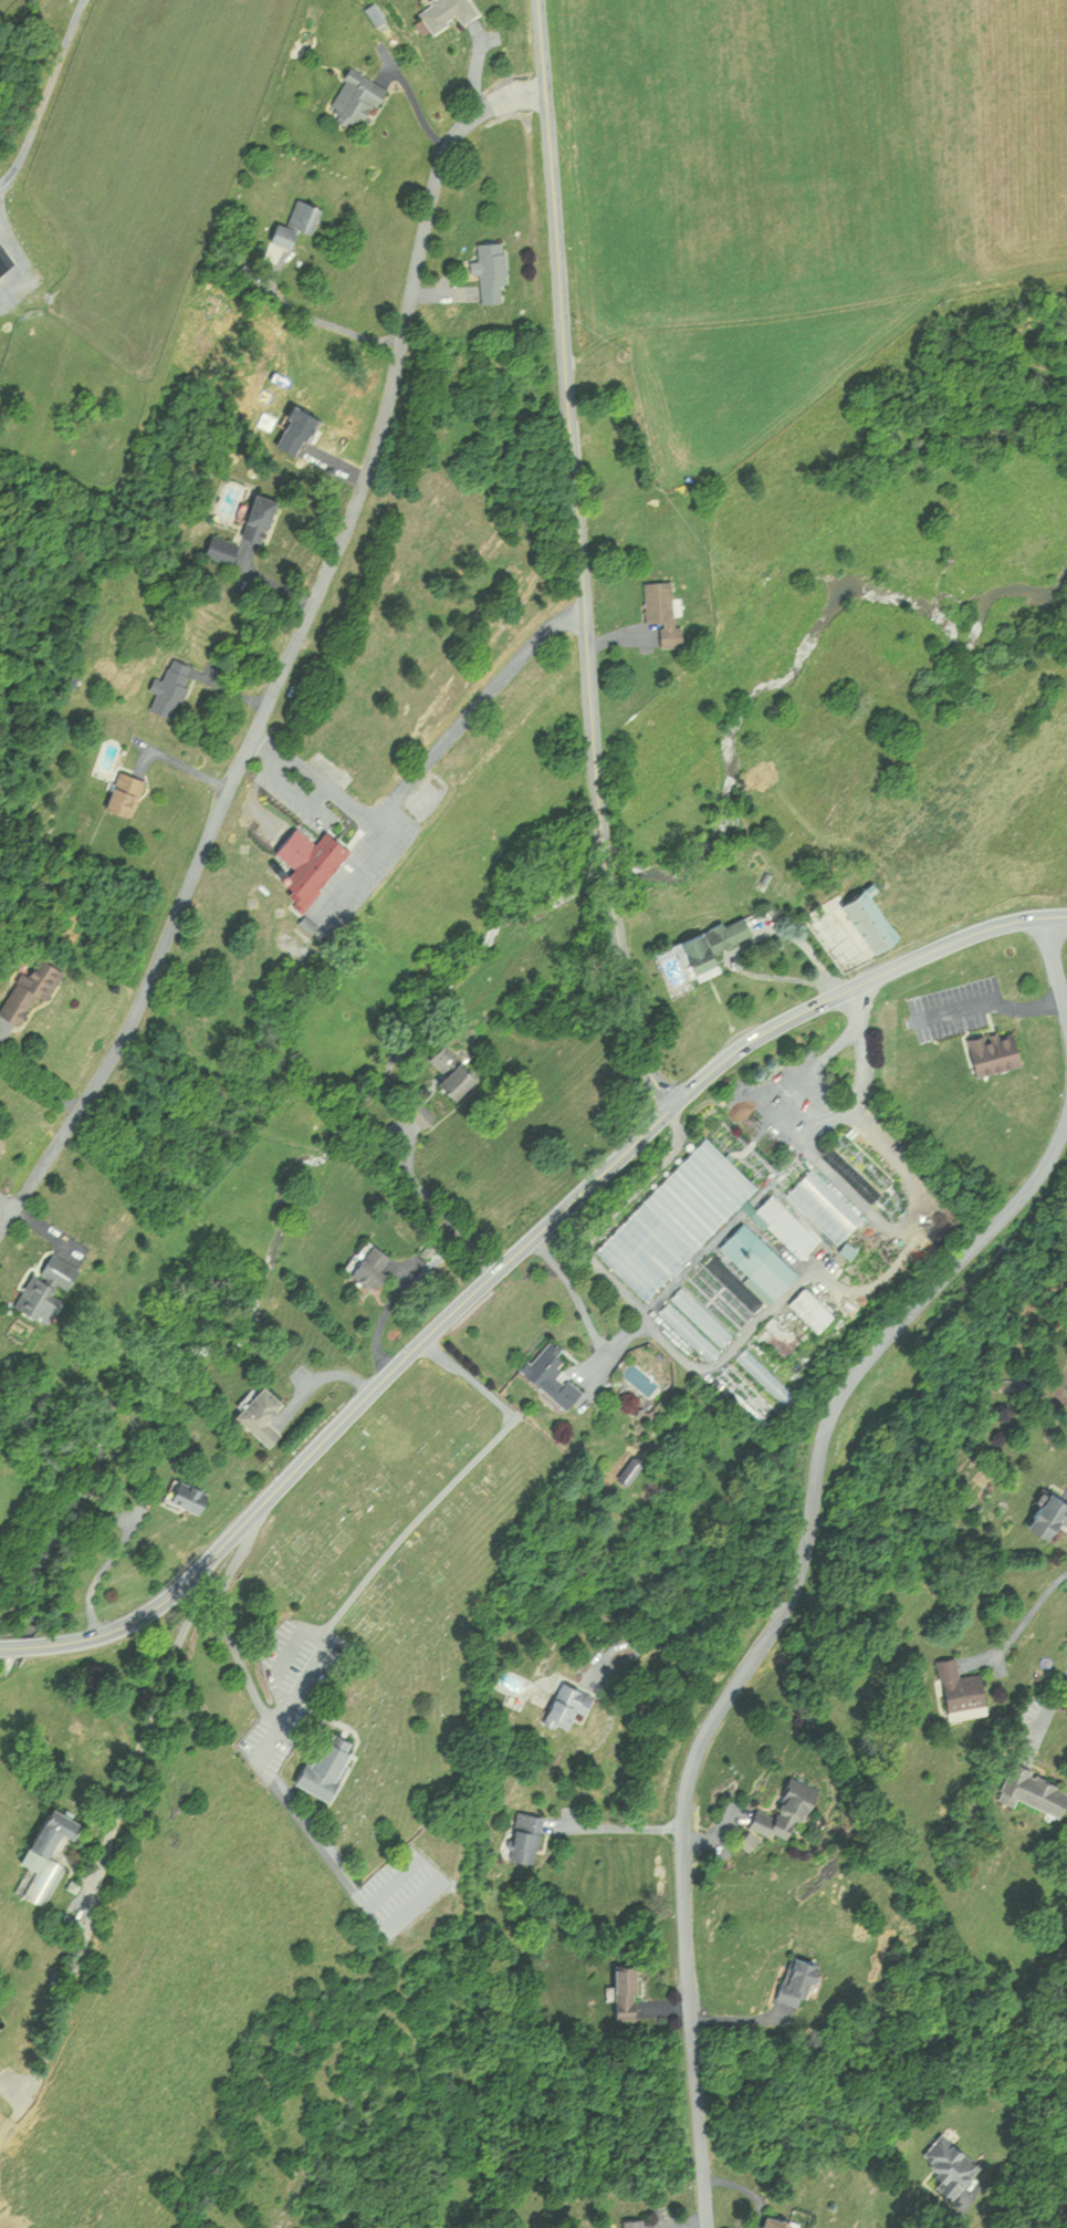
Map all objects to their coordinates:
building: (446, 12)
road: (42, 97)
building: (355, 98)
building: (295, 222)
road: (15, 259)
building: (3, 260)
building: (491, 269)
road: (320, 319)
road: (569, 426)
building: (257, 516)
building: (220, 548)
building: (661, 608)
road: (291, 650)
building: (170, 686)
road: (426, 762)
building: (124, 792)
building: (308, 862)
road: (359, 868)
road: (613, 868)
building: (868, 919)
building: (712, 946)
road: (1055, 965)
building: (30, 987)
road: (635, 998)
road: (998, 1009)
building: (993, 1052)
building: (451, 1071)
road: (785, 1085)
road: (35, 1089)
building: (422, 1114)
building: (827, 1200)
road: (608, 1218)
building: (693, 1218)
road: (454, 1226)
building: (115, 1230)
road: (523, 1246)
building: (757, 1261)
building: (370, 1264)
building: (46, 1285)
building: (810, 1308)
road: (584, 1312)
building: (704, 1314)
building: (778, 1333)
building: (692, 1334)
building: (552, 1375)
building: (260, 1414)
road: (449, 1483)
building: (187, 1495)
building: (1049, 1514)
road: (97, 1570)
road: (700, 1620)
road: (1022, 1624)
road: (766, 1634)
road: (18, 1645)
road: (3, 1646)
building: (960, 1690)
road: (289, 1697)
building: (565, 1704)
road: (1048, 1711)
road: (265, 1735)
building: (325, 1762)
road: (129, 1781)
building: (1032, 1790)
building: (785, 1811)
road: (616, 1828)
building: (524, 1836)
building: (44, 1856)
building: (795, 1980)
building: (625, 1991)
building: (949, 2163)
road: (950, 2215)
building: (772, 2220)
building: (634, 2221)

